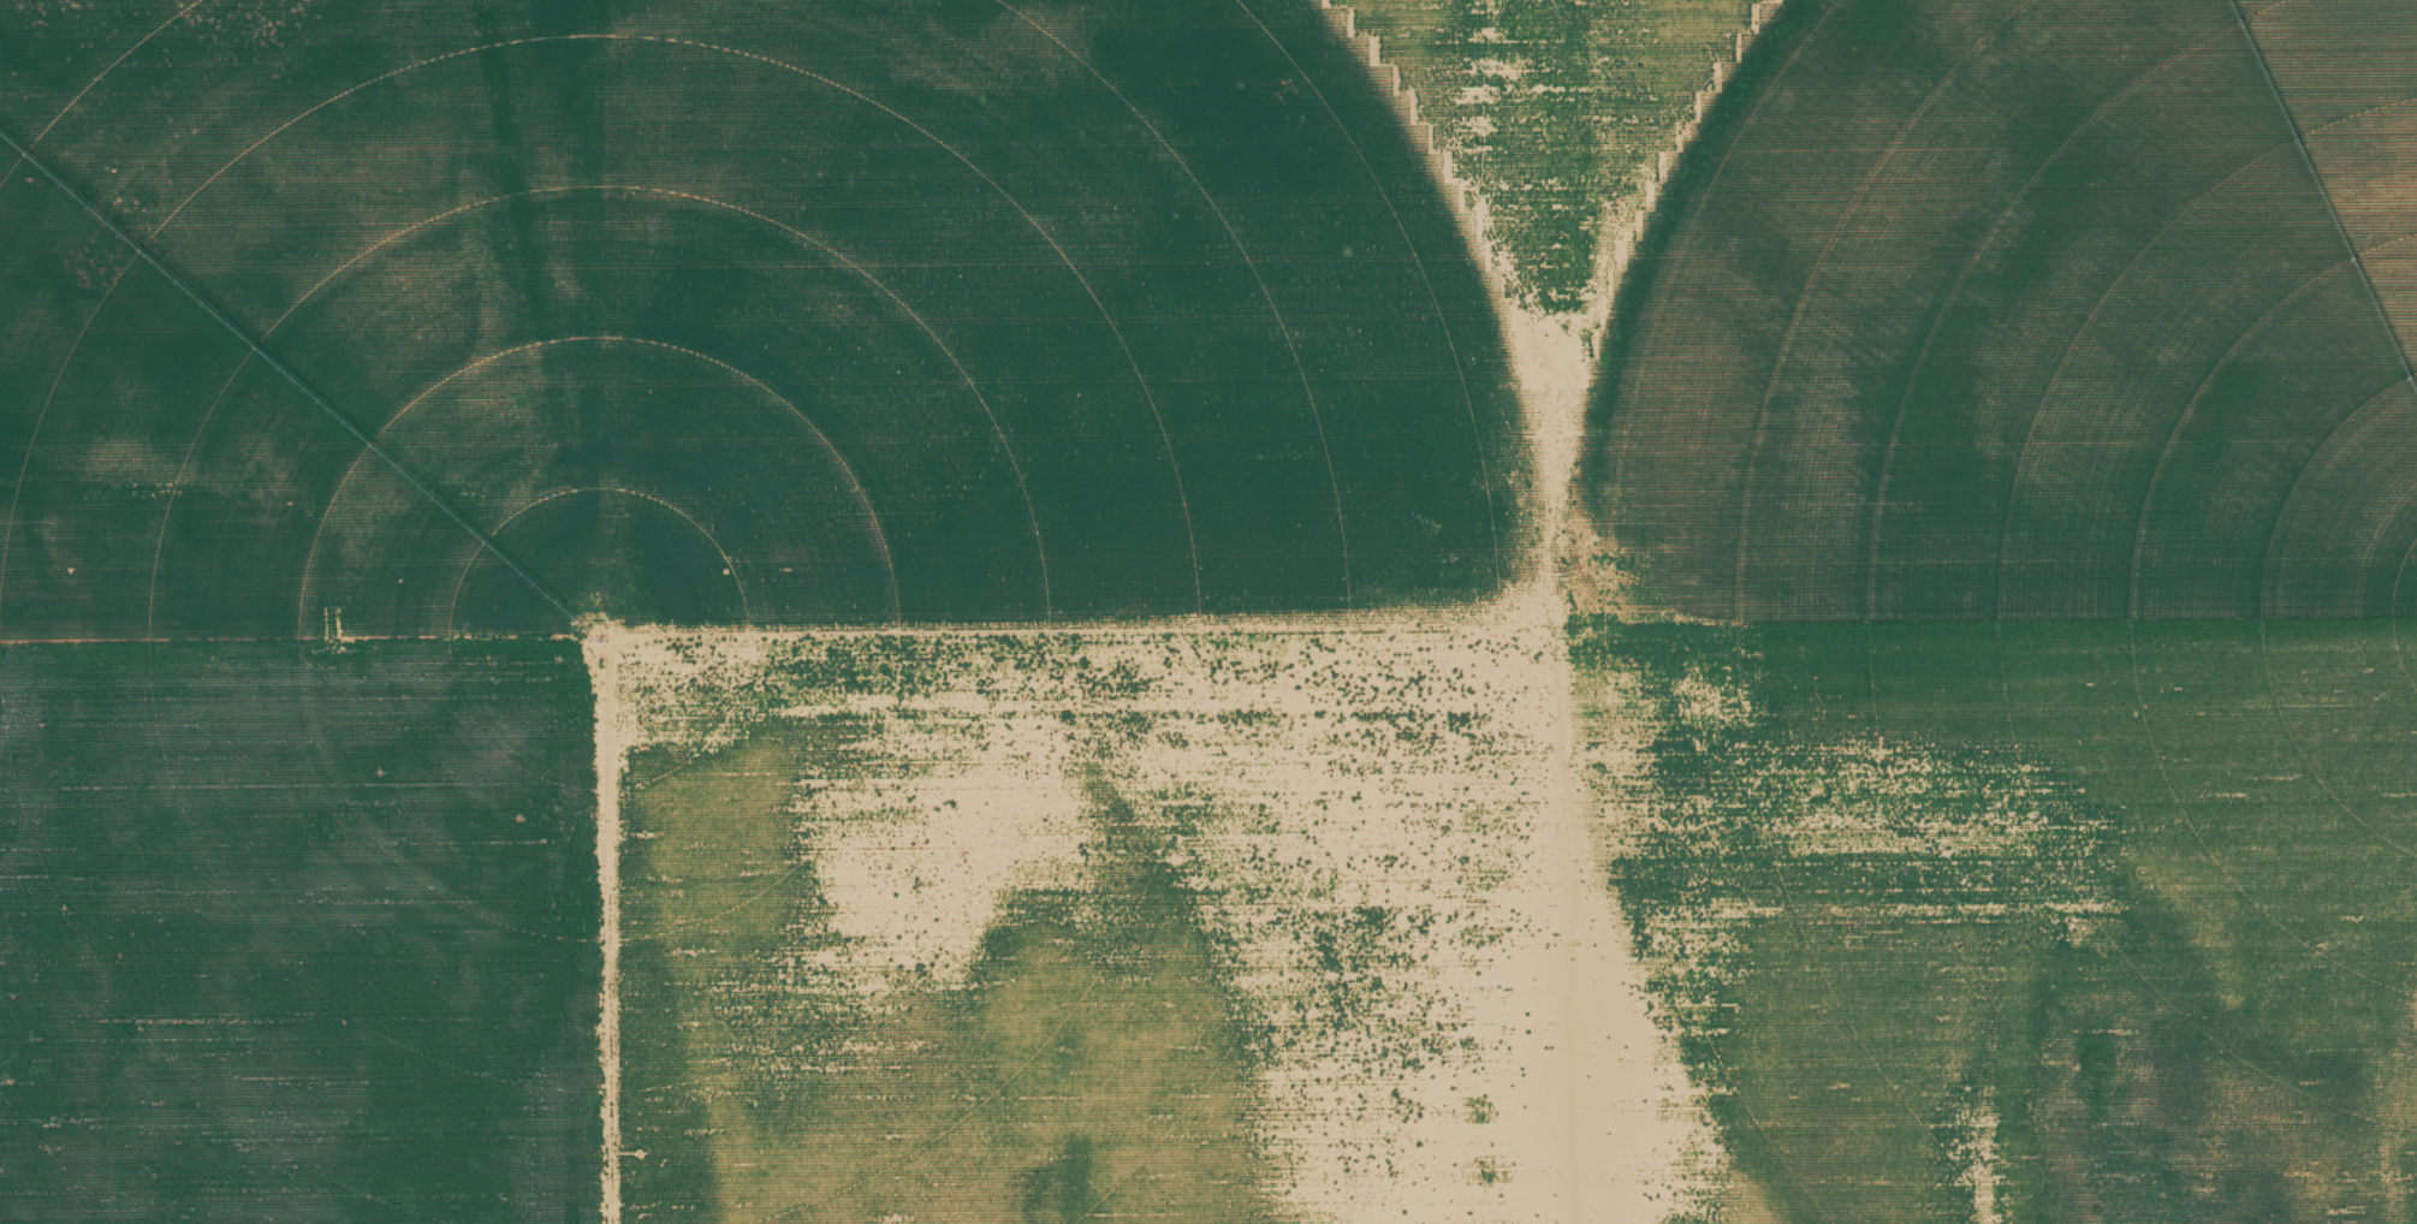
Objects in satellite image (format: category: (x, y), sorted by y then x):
road: (124, 477)
road: (2264, 1178)
road: (2388, 1195)
road: (57, 1210)

